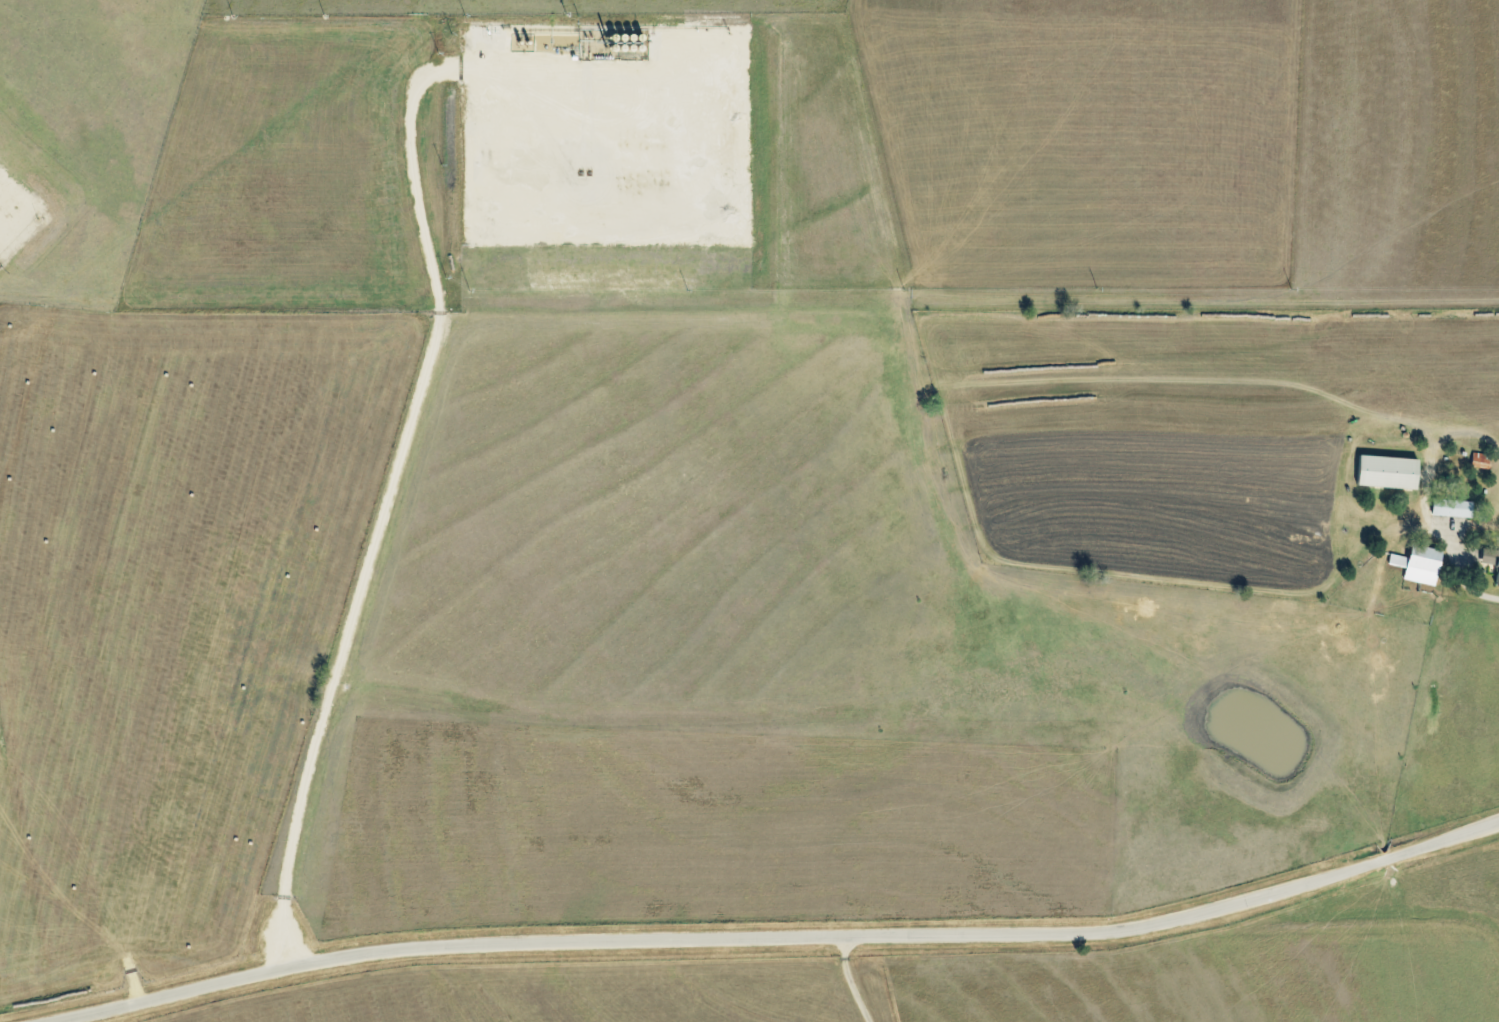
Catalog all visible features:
building: (1479, 460)
building: (1383, 472)
building: (1450, 508)
building: (1491, 562)
building: (1416, 564)
road: (1472, 580)
road: (780, 937)

